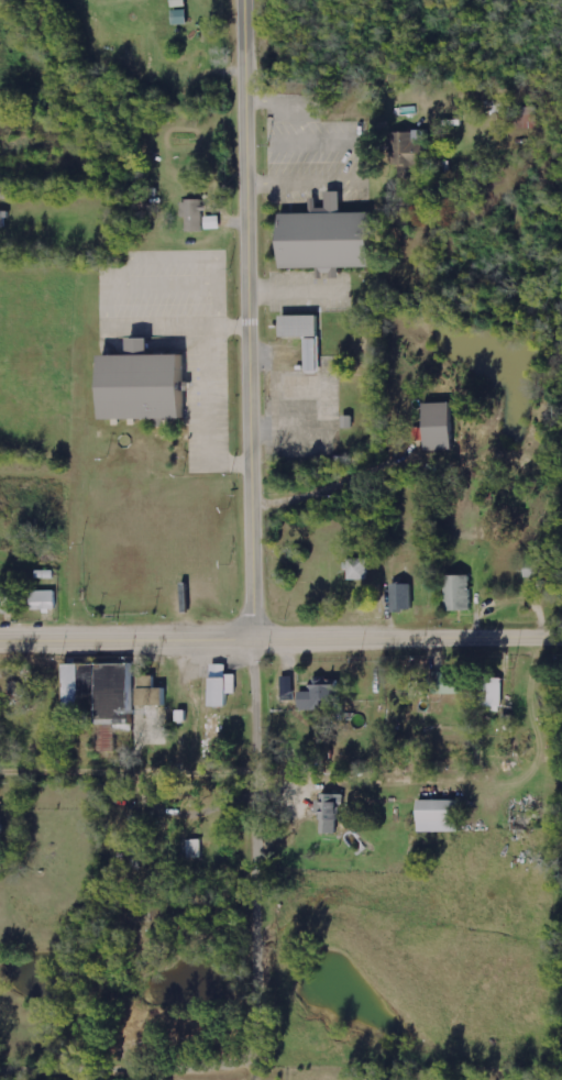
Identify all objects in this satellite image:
building: (412, 148)
building: (194, 216)
building: (2, 221)
building: (319, 243)
road: (246, 319)
building: (301, 333)
building: (133, 386)
building: (436, 427)
building: (357, 570)
building: (538, 570)
building: (460, 594)
building: (4, 596)
building: (41, 596)
building: (403, 598)
road: (407, 640)
road: (125, 641)
building: (449, 685)
building: (222, 686)
building: (112, 691)
building: (493, 695)
building: (321, 696)
building: (154, 697)
building: (212, 737)
road: (126, 780)
building: (330, 813)
building: (441, 817)
road: (253, 846)
building: (195, 850)
road: (126, 1061)
road: (253, 1066)

